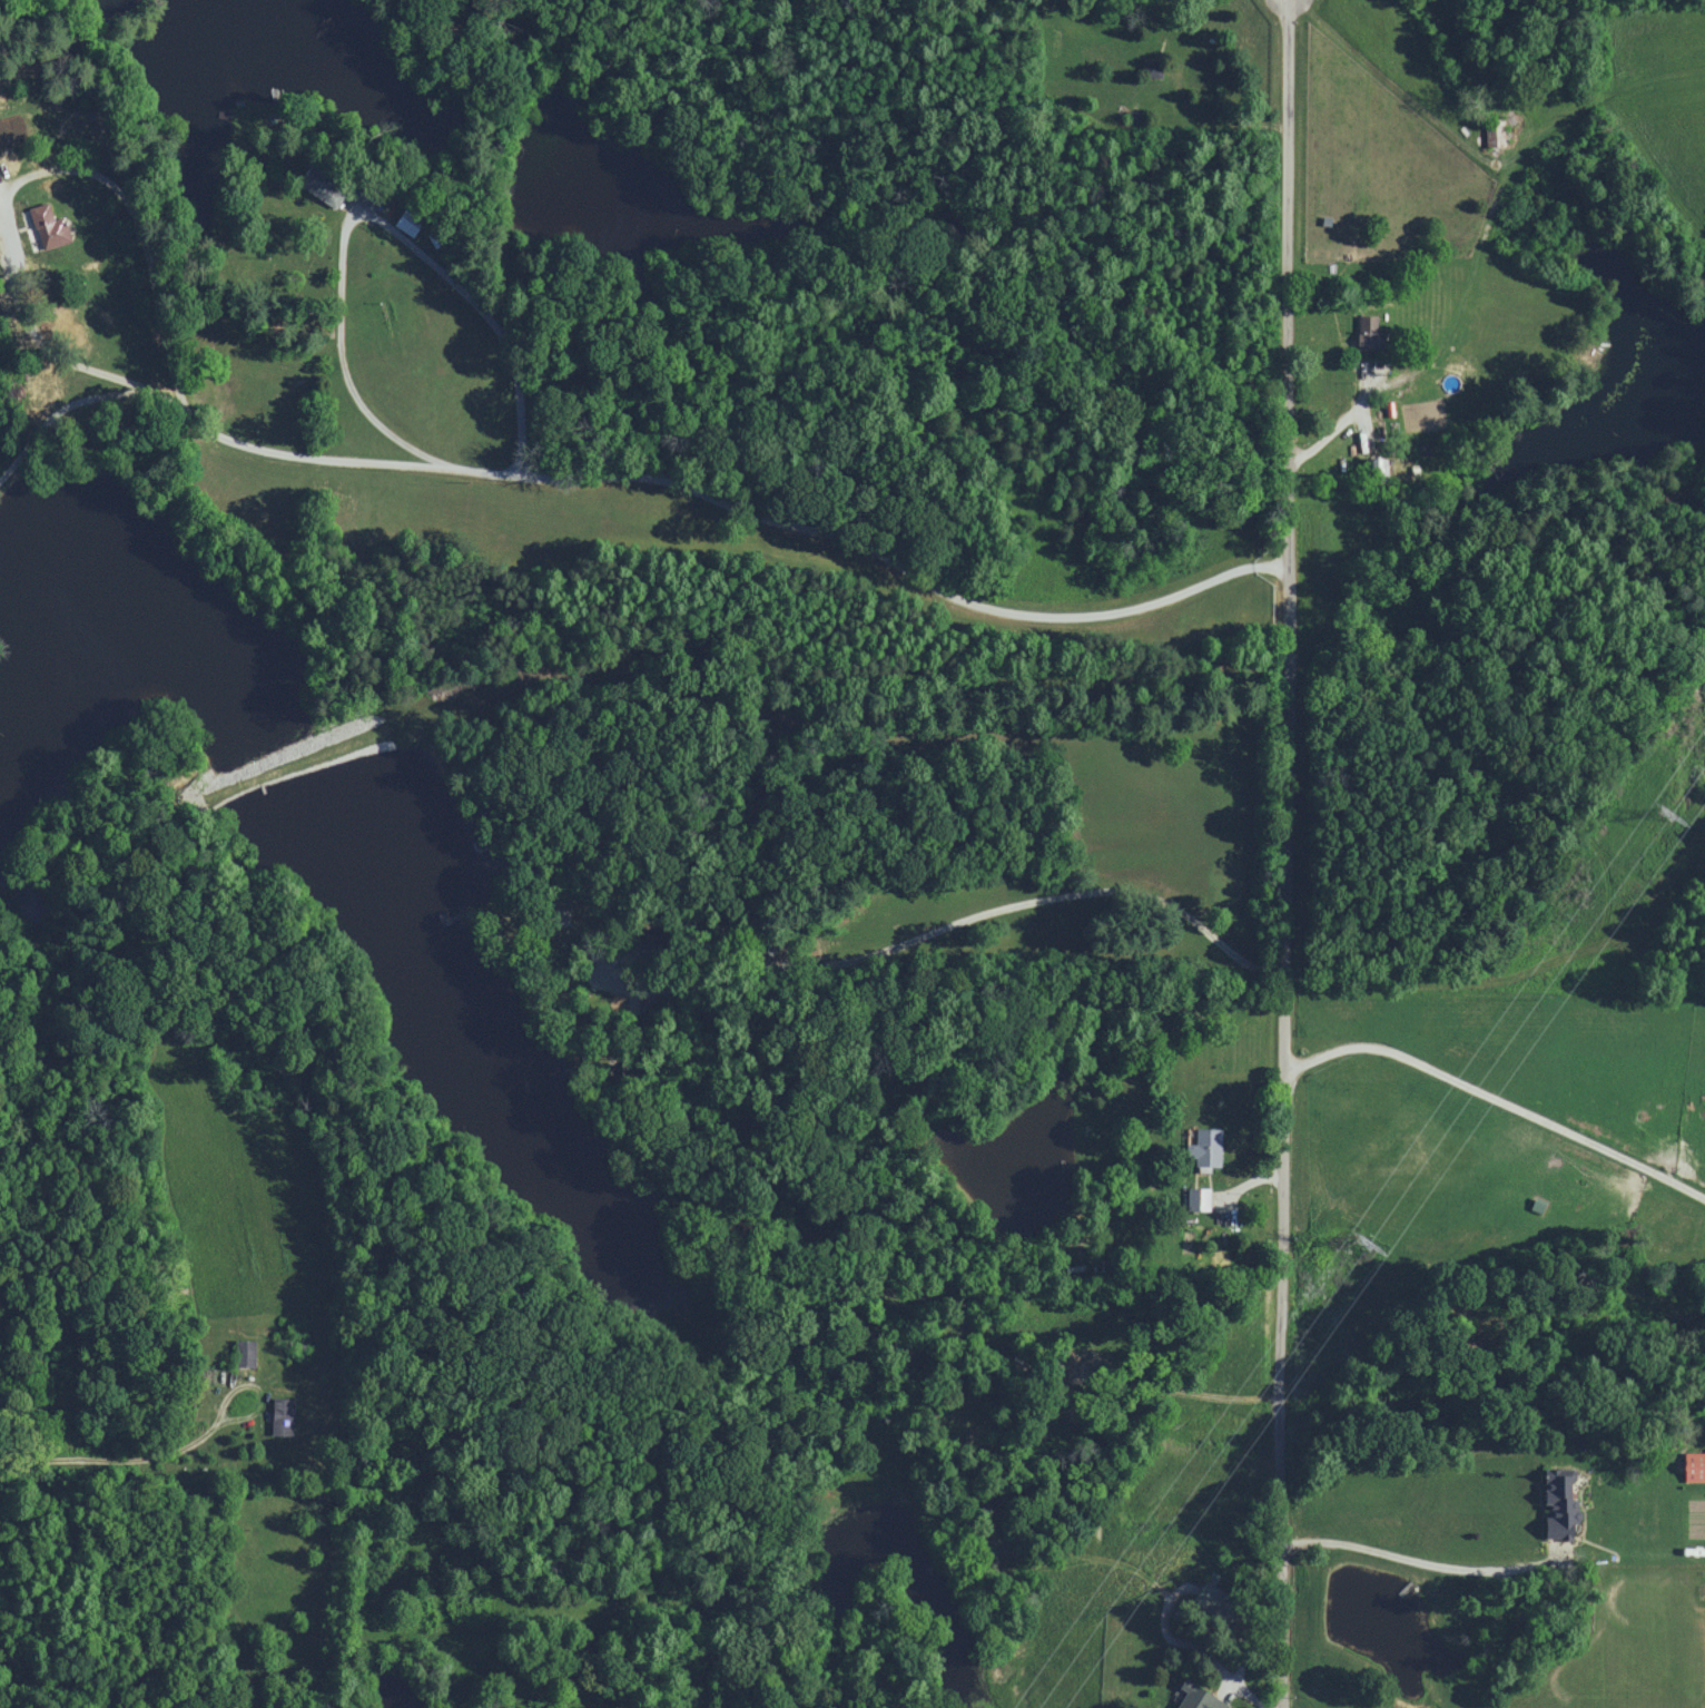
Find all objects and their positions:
building: (1150, 67)
road: (1389, 80)
road: (136, 209)
building: (47, 225)
road: (483, 308)
building: (1364, 333)
road: (171, 401)
road: (1341, 412)
road: (46, 422)
building: (1372, 467)
road: (730, 497)
power tower: (1665, 818)
road: (1281, 854)
road: (952, 916)
road: (1497, 1097)
building: (1202, 1147)
road: (1252, 1174)
building: (1195, 1199)
power tower: (1358, 1246)
building: (246, 1353)
building: (284, 1415)
road: (131, 1451)
building: (1692, 1465)
building: (1554, 1505)
road: (1419, 1563)
building: (1199, 1592)
road: (1175, 1599)
building: (1193, 1697)

